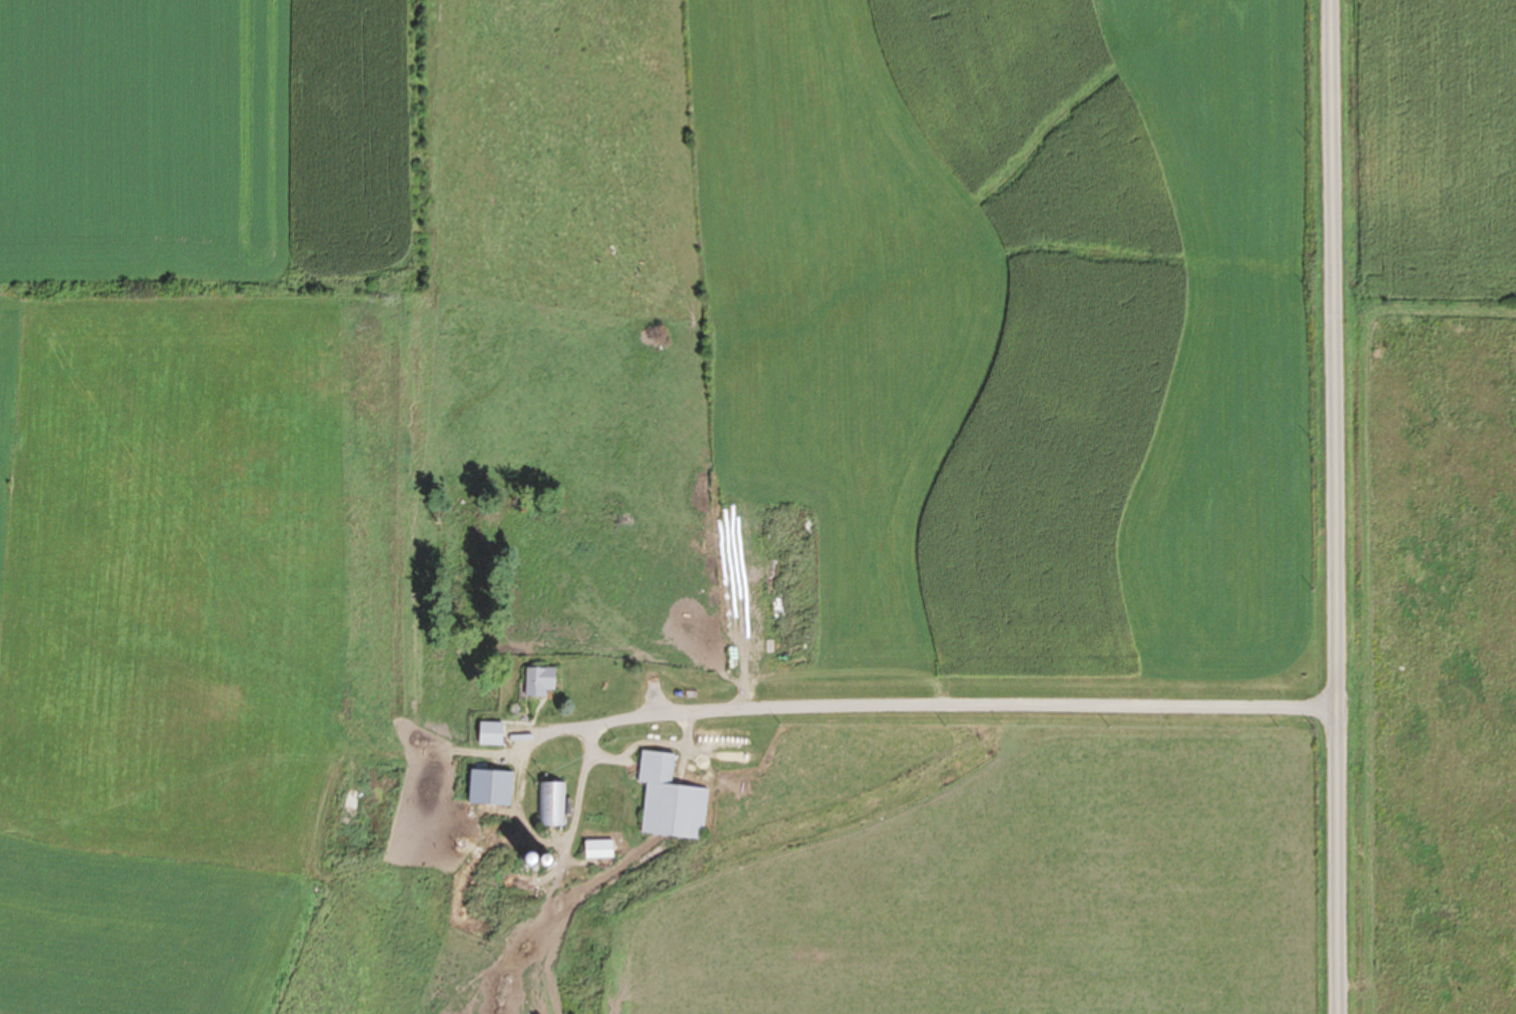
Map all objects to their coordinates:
road: (1328, 507)
building: (541, 681)
road: (946, 692)
building: (491, 734)
building: (491, 789)
building: (670, 800)
building: (550, 805)
building: (599, 849)

